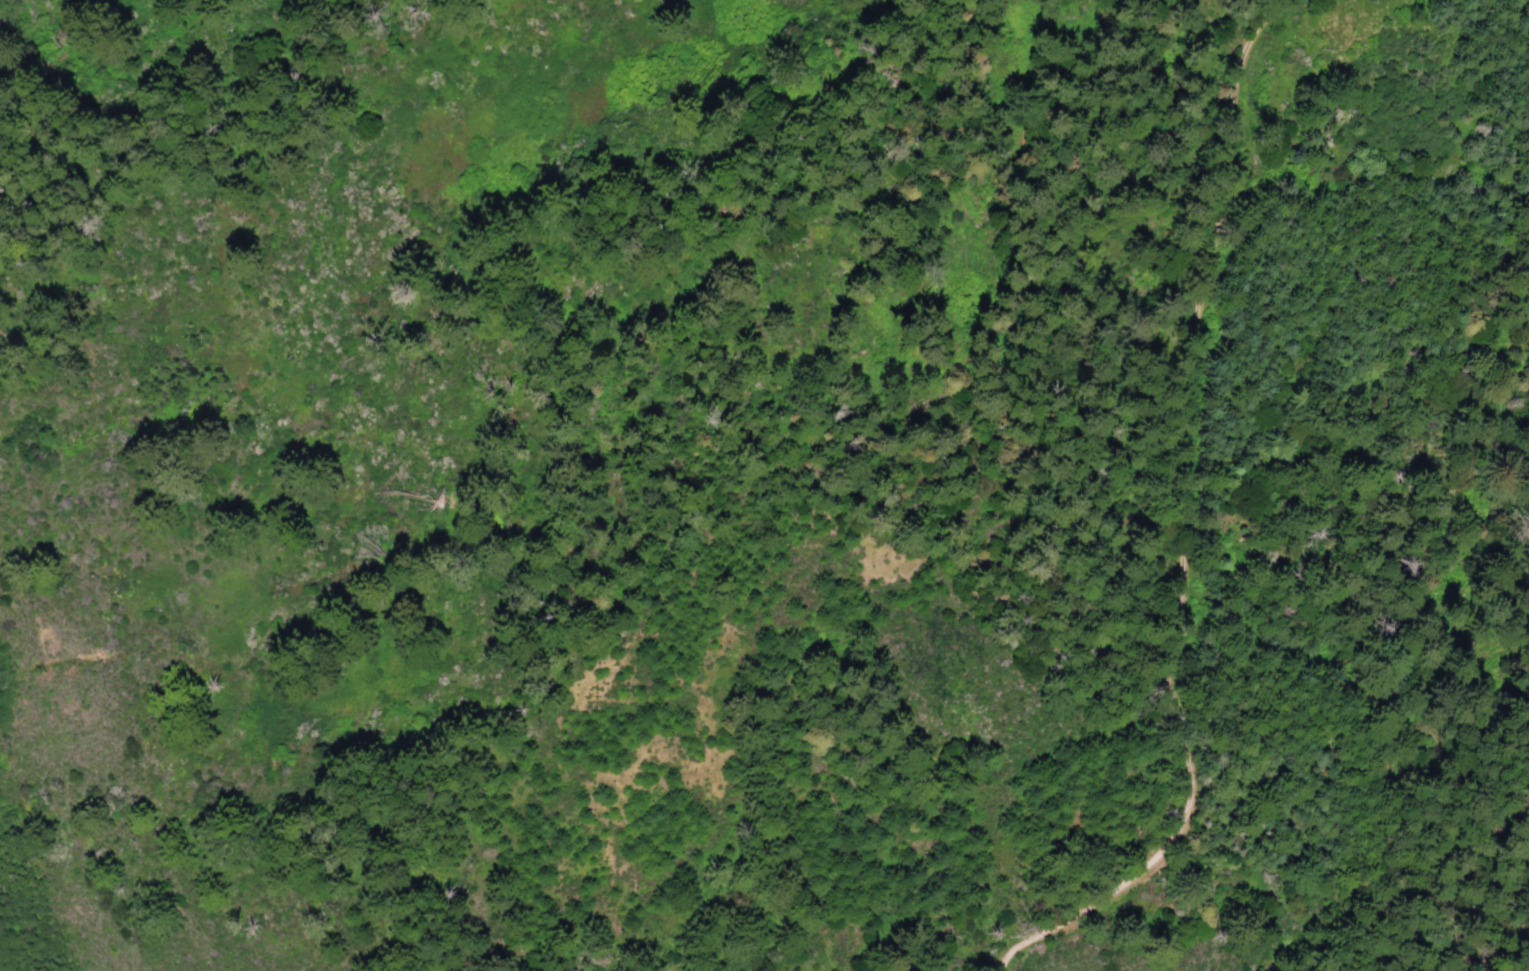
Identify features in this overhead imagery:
road: (1251, 134)
road: (1394, 309)
road: (1195, 667)
road: (1524, 964)

